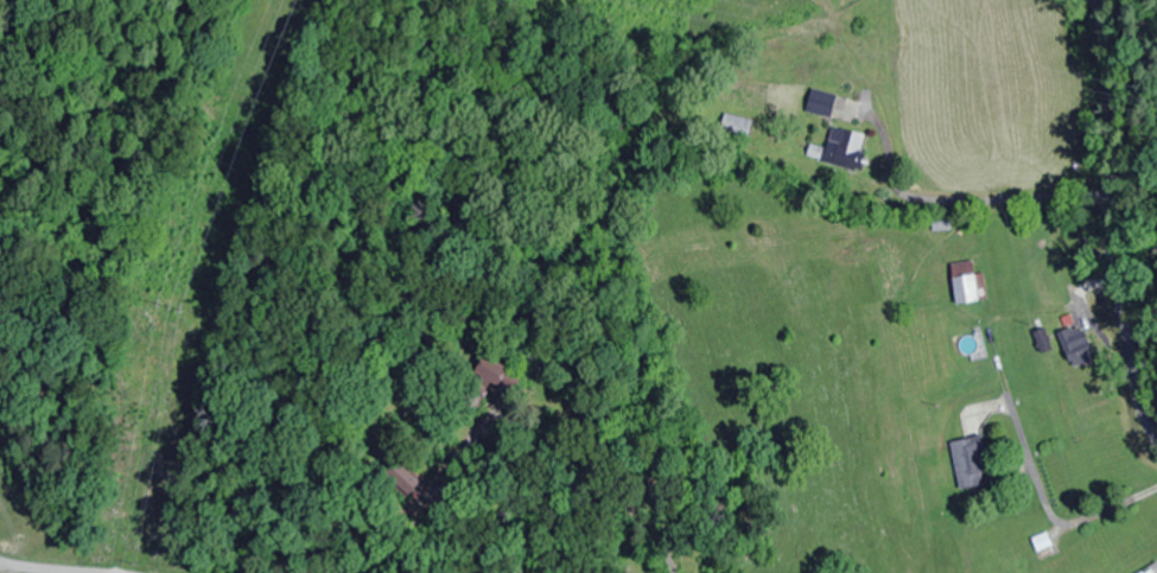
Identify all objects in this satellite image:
road: (1088, 230)
building: (964, 286)
building: (1075, 345)
building: (966, 461)
road: (21, 569)

